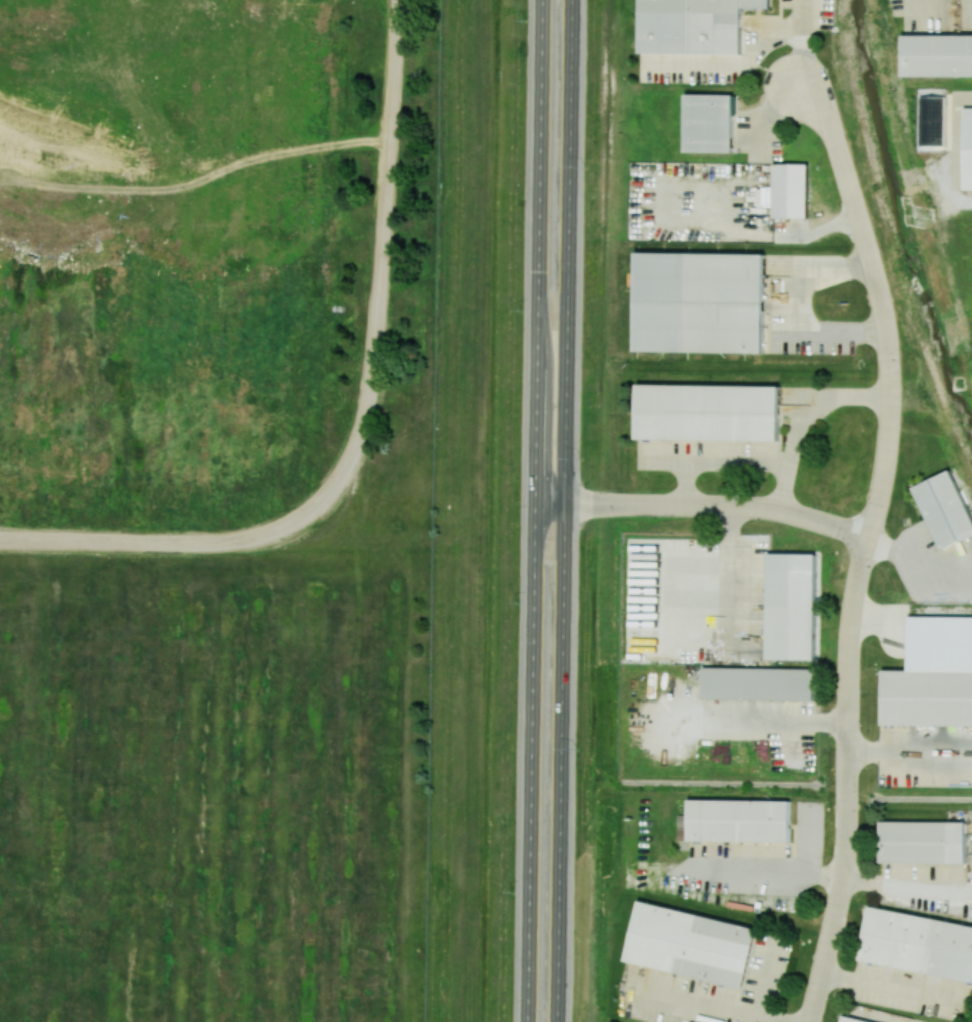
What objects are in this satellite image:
building: (690, 24)
road: (803, 42)
building: (937, 56)
road: (734, 63)
building: (708, 115)
building: (934, 122)
road: (954, 149)
building: (969, 149)
building: (790, 191)
road: (819, 232)
building: (698, 294)
road: (880, 301)
road: (800, 307)
building: (707, 403)
road: (361, 421)
road: (806, 423)
road: (712, 458)
road: (704, 506)
landfill: (253, 508)
building: (945, 508)
road: (534, 511)
road: (564, 511)
building: (792, 598)
building: (757, 677)
building: (927, 698)
road: (747, 722)
road: (910, 750)
road: (848, 780)
building: (739, 815)
building: (924, 839)
road: (771, 873)
road: (907, 888)
building: (918, 941)
building: (692, 943)
road: (766, 980)
road: (709, 1007)
building: (849, 1020)

